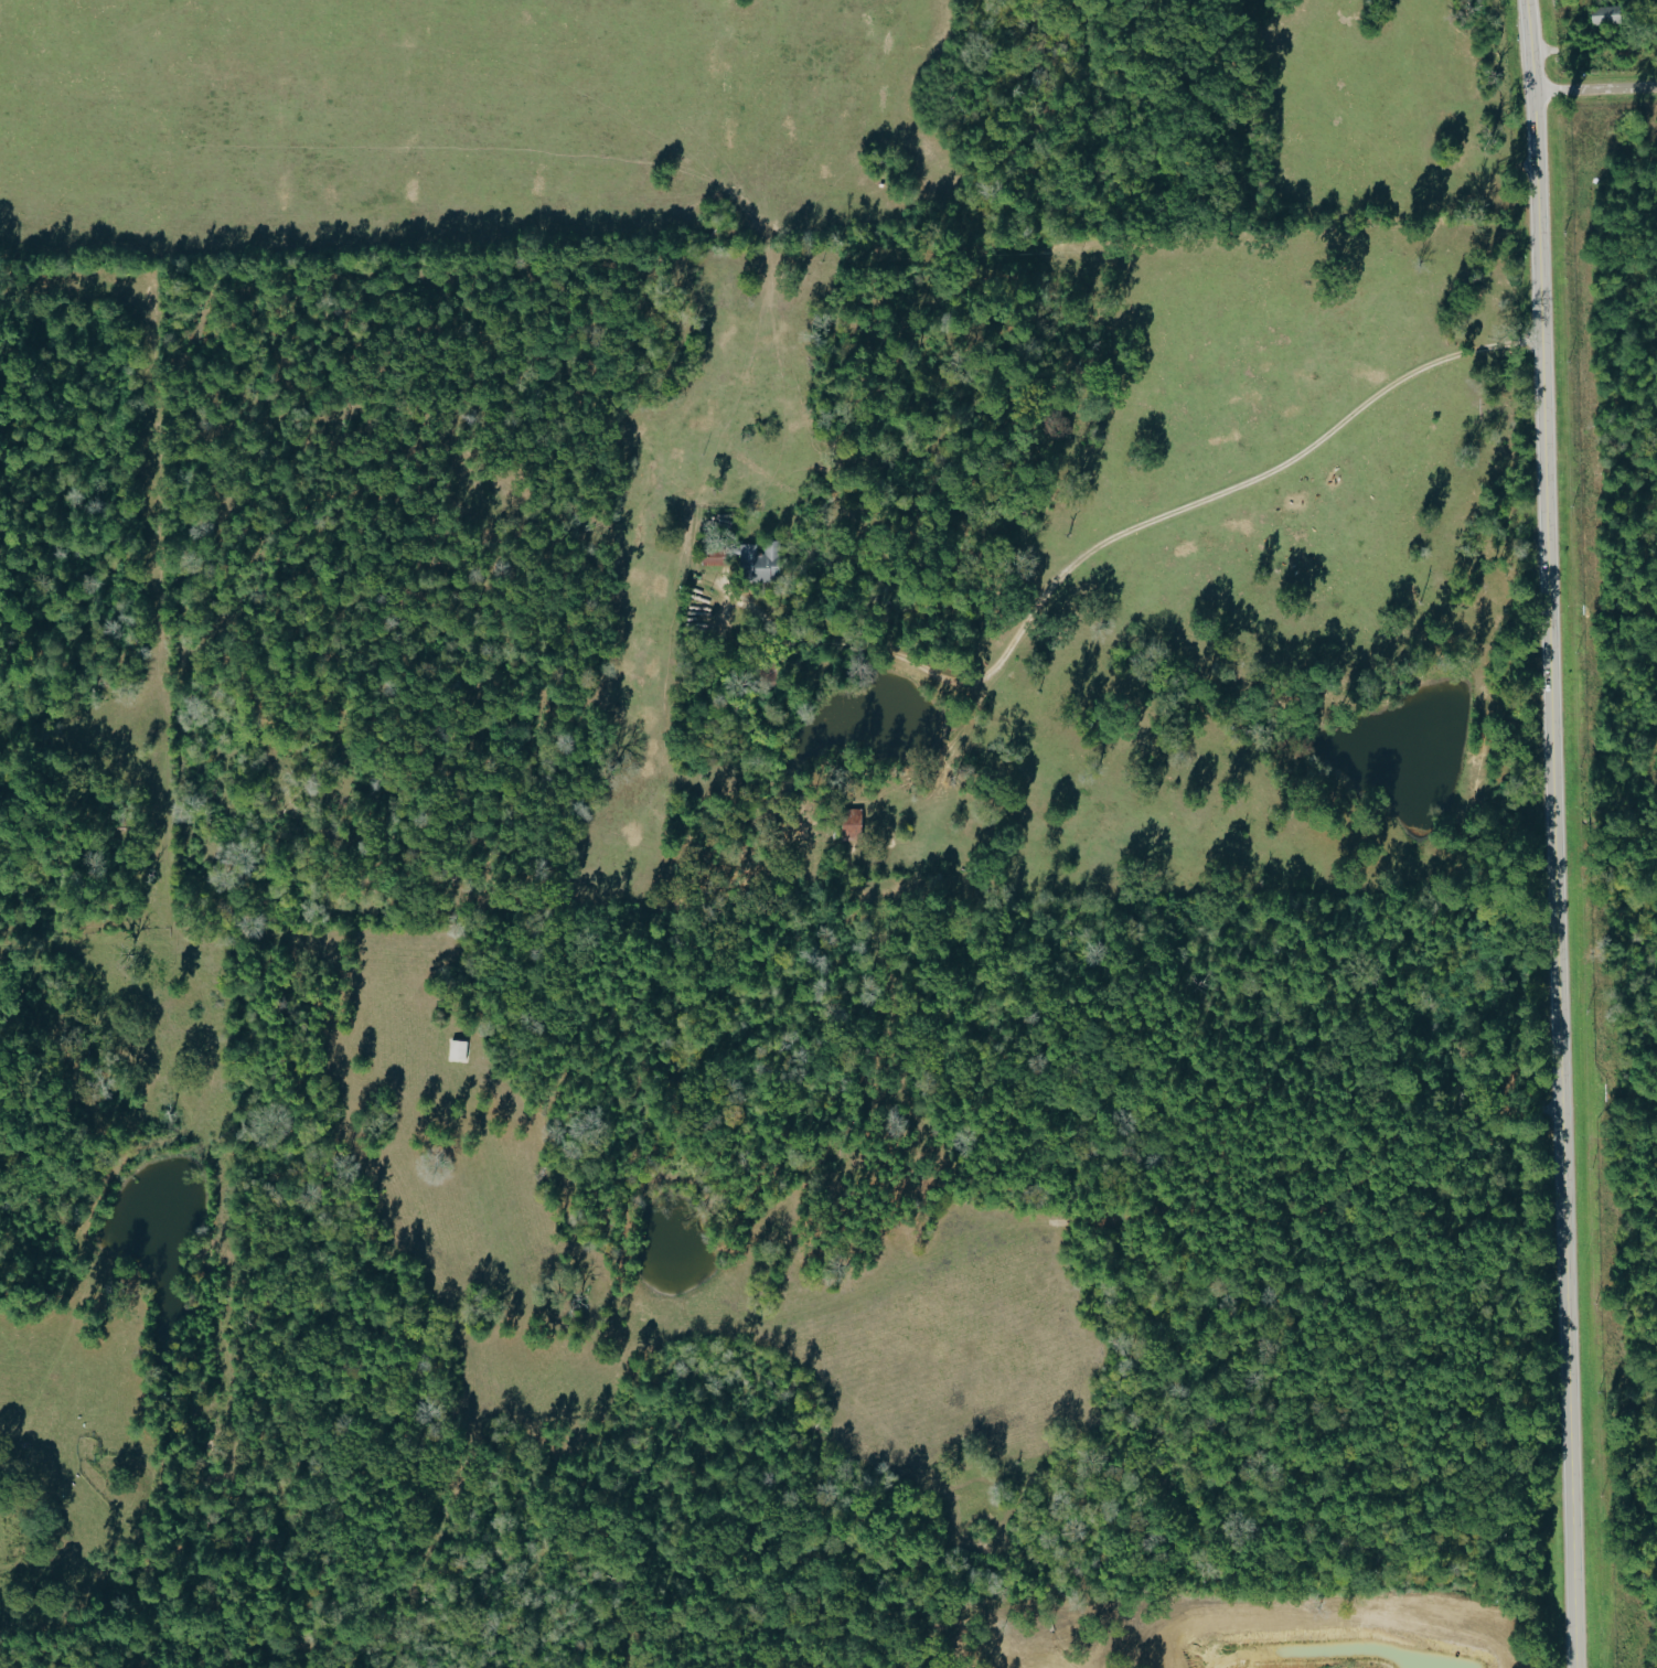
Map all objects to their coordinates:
building: (1602, 14)
road: (1126, 21)
road: (1594, 88)
road: (1111, 536)
building: (762, 559)
road: (1547, 833)
building: (461, 1051)

